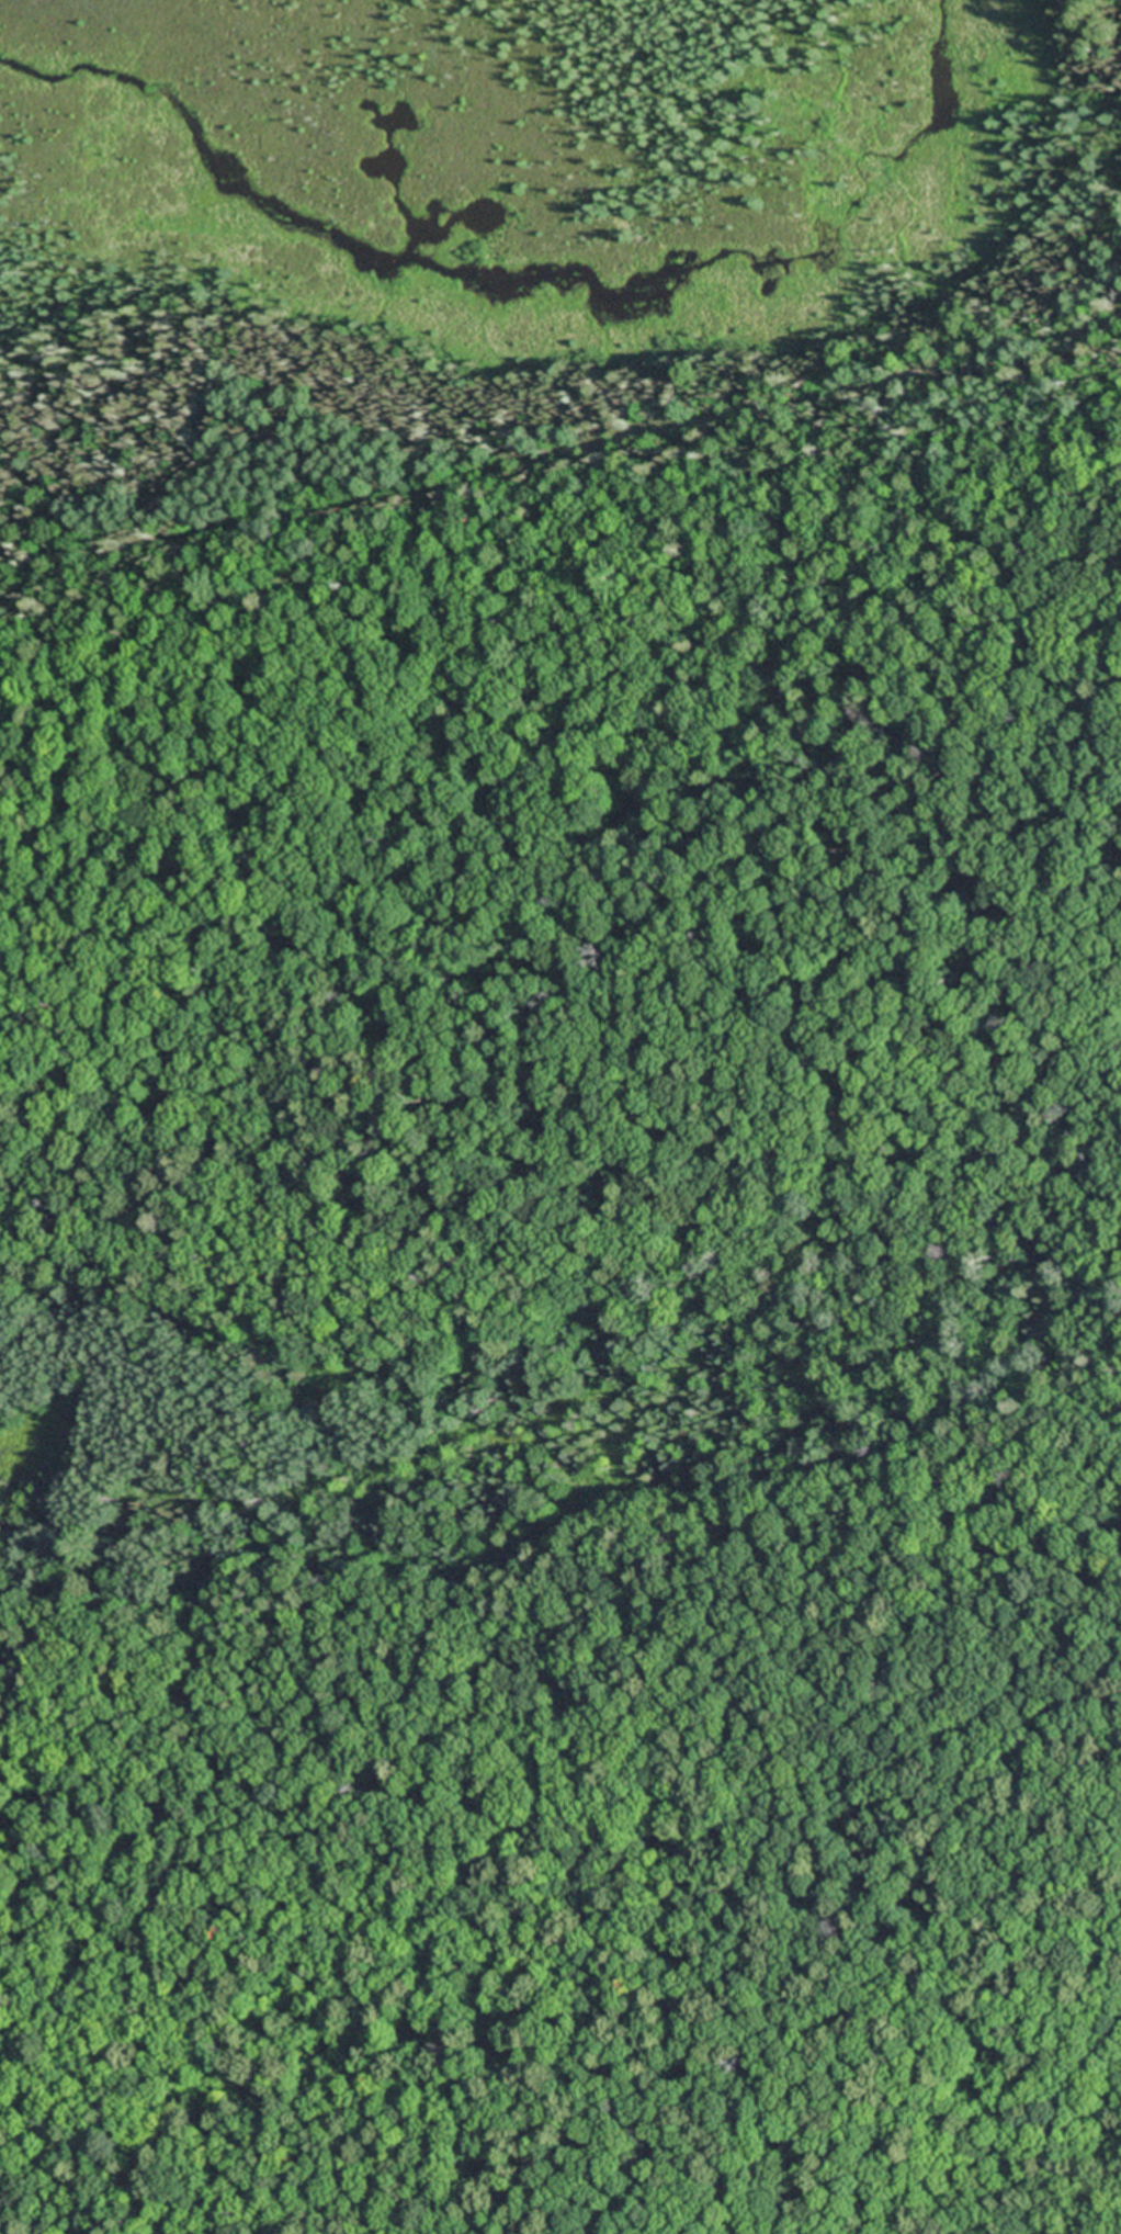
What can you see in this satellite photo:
road: (560, 453)

